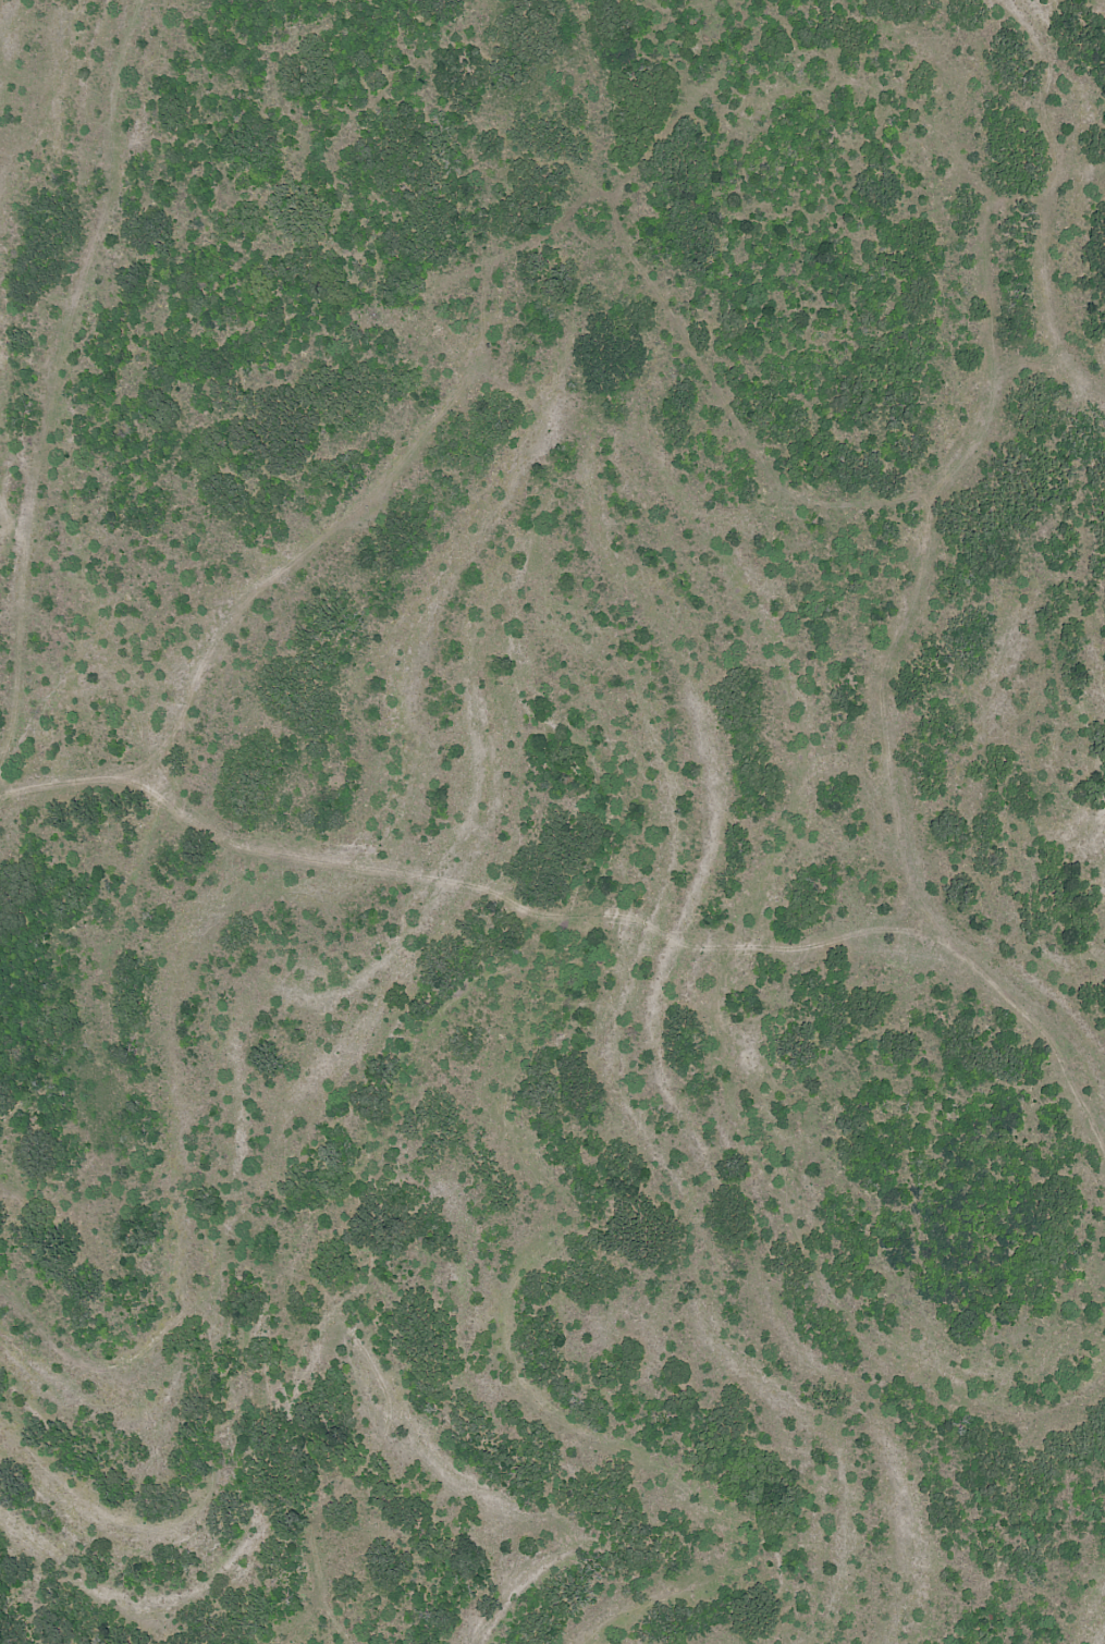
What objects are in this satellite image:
road: (98, 418)
road: (913, 597)
road: (451, 903)

